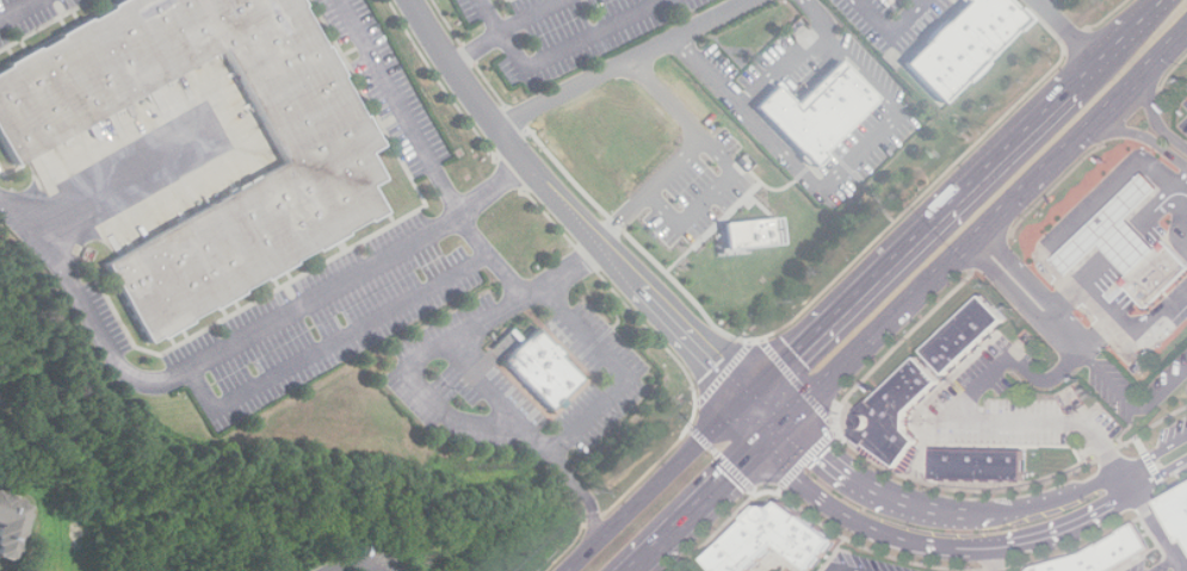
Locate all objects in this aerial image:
road: (919, 1)
road: (1039, 1)
road: (1162, 2)
road: (18, 10)
parking lot: (475, 10)
road: (876, 15)
road: (908, 15)
parking lot: (29, 17)
parking lot: (891, 19)
road: (506, 30)
road: (1068, 30)
parking lot: (579, 33)
building: (963, 45)
road: (1115, 46)
road: (557, 52)
road: (624, 62)
road: (784, 67)
parking lot: (385, 85)
road: (1151, 104)
road: (400, 107)
building: (818, 112)
parking lot: (886, 117)
road: (1132, 131)
road: (682, 153)
building: (323, 174)
road: (837, 176)
road: (128, 180)
road: (1176, 190)
road: (1160, 205)
road: (568, 209)
road: (1176, 211)
road: (706, 215)
building: (743, 232)
road: (982, 232)
building: (1117, 232)
road: (910, 243)
building: (1160, 275)
road: (508, 277)
road: (1076, 288)
road: (1028, 296)
parking lot: (106, 317)
parking lot: (320, 322)
road: (1102, 333)
road: (351, 334)
building: (969, 335)
road: (237, 342)
parking lot: (451, 366)
building: (537, 366)
road: (486, 386)
traffic signals: (749, 398)
road: (1135, 403)
building: (899, 412)
road: (966, 414)
road: (763, 416)
road: (470, 423)
traffic signals: (778, 434)
road: (1154, 452)
building: (983, 464)
road: (840, 466)
road: (1162, 479)
road: (1131, 483)
road: (660, 484)
road: (583, 495)
road: (1061, 498)
building: (1183, 501)
road: (706, 502)
road: (948, 513)
building: (8, 520)
road: (867, 526)
road: (1160, 526)
road: (1074, 530)
building: (777, 539)
building: (1107, 553)
road: (351, 559)
road: (1002, 560)
road: (1183, 560)
road: (1168, 564)
road: (1166, 567)
road: (848, 569)

